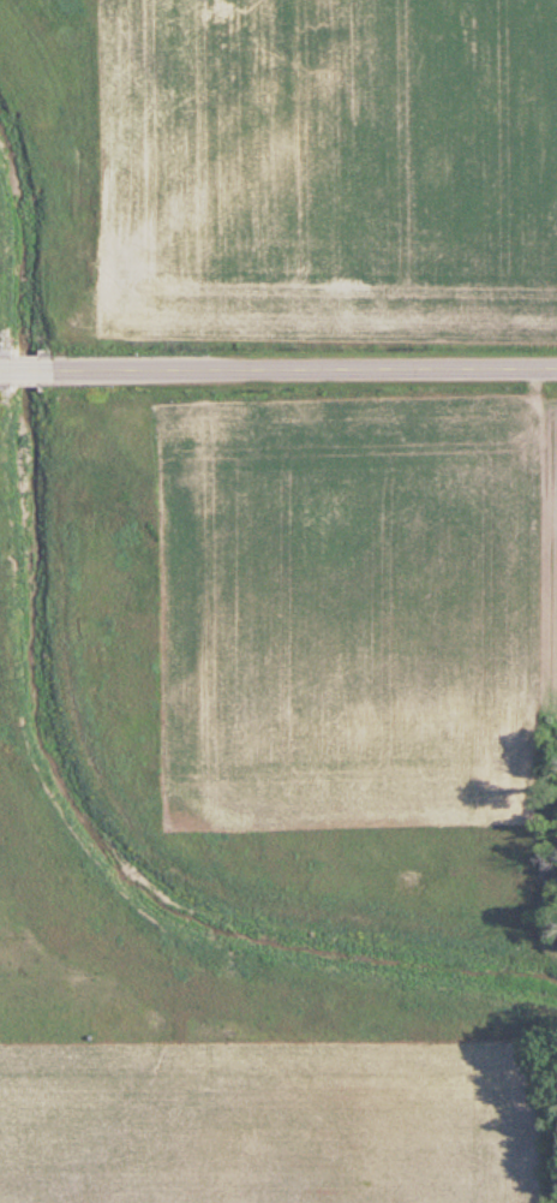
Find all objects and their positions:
road: (278, 368)

